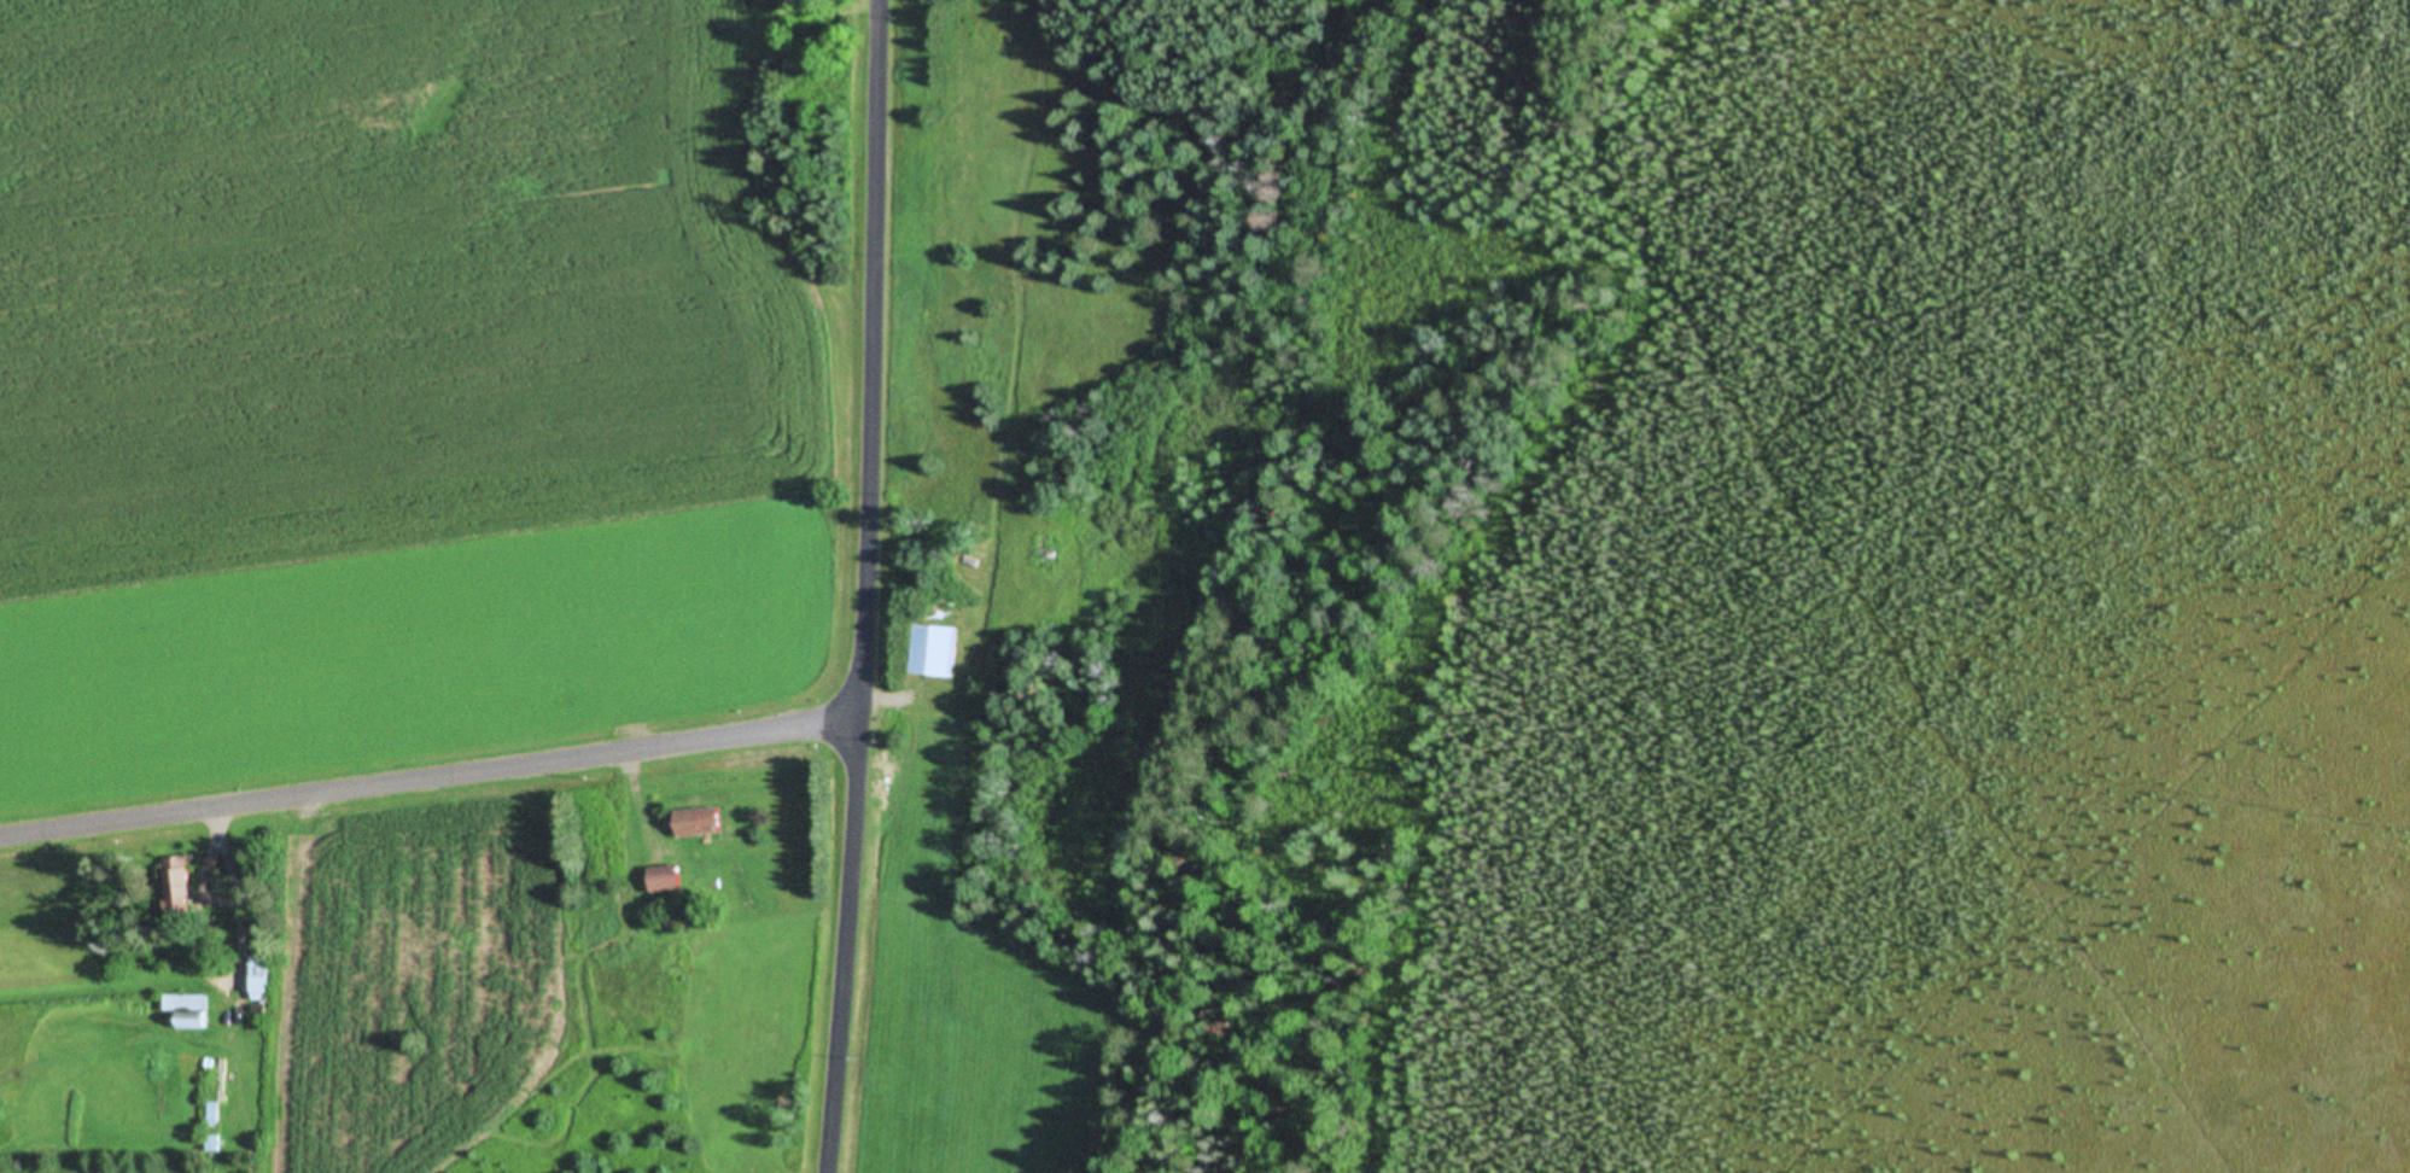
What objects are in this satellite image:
road: (869, 586)
building: (935, 652)
road: (432, 800)
building: (700, 822)
building: (181, 879)
building: (669, 879)
building: (261, 977)
building: (191, 1010)
building: (215, 1143)

